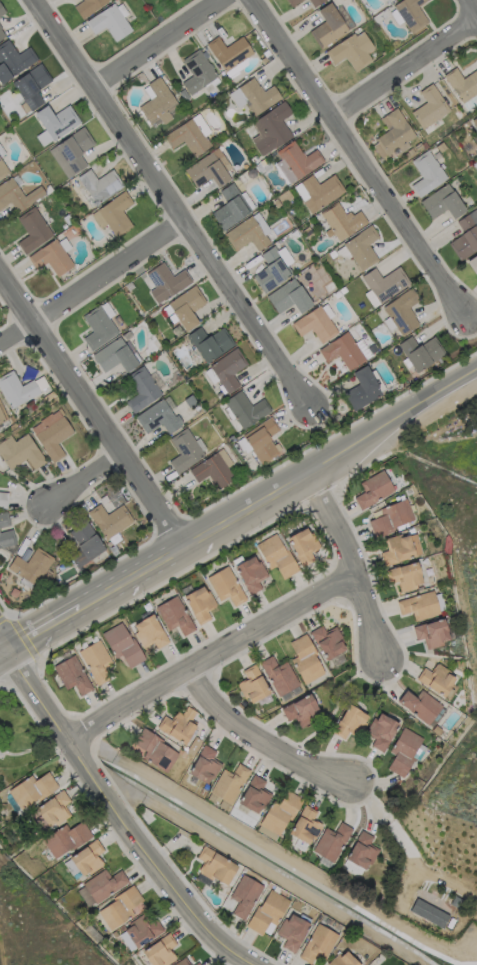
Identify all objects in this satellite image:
building: (292, 2)
building: (314, 2)
building: (87, 6)
road: (472, 6)
building: (1, 11)
building: (407, 13)
building: (110, 21)
building: (327, 26)
building: (1, 33)
road: (155, 40)
building: (351, 51)
building: (228, 52)
building: (13, 60)
road: (406, 62)
building: (196, 71)
building: (462, 84)
building: (31, 86)
building: (253, 96)
building: (156, 101)
building: (429, 107)
building: (56, 121)
building: (474, 121)
building: (199, 124)
building: (270, 129)
building: (392, 135)
building: (186, 137)
building: (42, 138)
building: (474, 138)
building: (71, 152)
road: (365, 155)
building: (295, 162)
building: (208, 169)
building: (2, 170)
building: (426, 173)
building: (99, 184)
building: (317, 191)
building: (16, 195)
building: (441, 202)
road: (170, 203)
building: (229, 207)
building: (113, 214)
building: (341, 221)
building: (32, 230)
building: (247, 233)
building: (465, 235)
building: (361, 247)
building: (50, 258)
building: (272, 268)
building: (165, 282)
building: (384, 283)
road: (91, 286)
building: (288, 297)
building: (185, 307)
building: (401, 311)
building: (314, 324)
building: (97, 328)
building: (209, 343)
building: (342, 351)
building: (421, 352)
building: (114, 356)
building: (227, 369)
building: (141, 389)
building: (361, 389)
building: (16, 390)
road: (90, 408)
building: (245, 409)
building: (2, 415)
building: (157, 417)
building: (50, 434)
building: (261, 440)
building: (184, 450)
building: (19, 451)
road: (87, 481)
building: (373, 489)
building: (2, 499)
road: (241, 513)
building: (391, 517)
building: (109, 519)
building: (5, 531)
building: (85, 543)
building: (301, 545)
building: (400, 548)
building: (275, 555)
road: (353, 562)
building: (30, 567)
building: (249, 573)
building: (404, 576)
building: (224, 585)
building: (198, 604)
building: (418, 605)
building: (173, 615)
building: (148, 632)
building: (431, 633)
building: (328, 641)
building: (121, 644)
road: (206, 653)
building: (305, 659)
building: (95, 661)
building: (71, 675)
building: (278, 675)
building: (437, 680)
building: (252, 684)
building: (419, 705)
building: (300, 710)
building: (349, 722)
building: (177, 725)
road: (258, 729)
building: (380, 731)
building: (153, 750)
road: (24, 751)
building: (403, 751)
building: (204, 765)
building: (227, 786)
building: (31, 789)
building: (253, 795)
building: (49, 811)
road: (115, 811)
building: (279, 813)
building: (305, 825)
building: (65, 839)
building: (331, 842)
road: (272, 851)
building: (361, 851)
building: (86, 858)
building: (215, 866)
building: (100, 886)
building: (244, 895)
building: (118, 908)
building: (267, 913)
building: (428, 913)
building: (141, 930)
building: (291, 931)
building: (317, 943)
building: (159, 951)
building: (343, 959)
building: (182, 962)
building: (196, 963)

